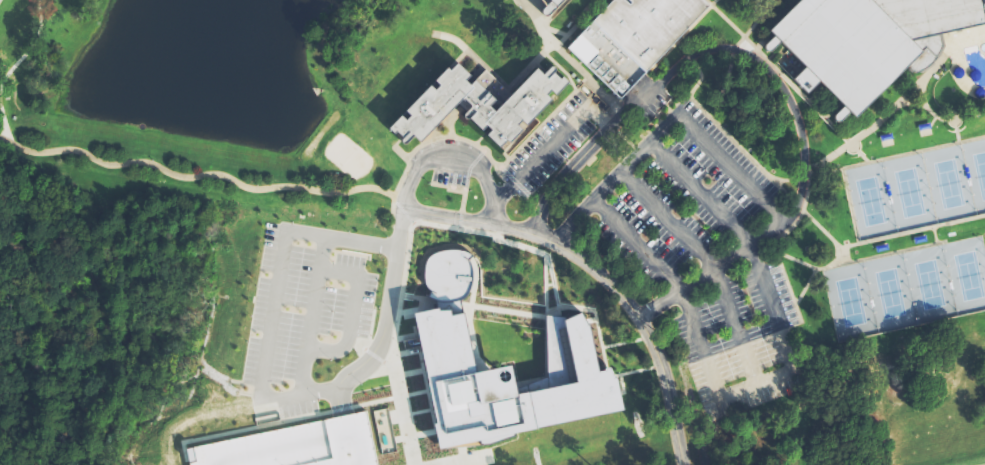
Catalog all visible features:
building: (549, 6)
road: (754, 24)
building: (632, 38)
building: (865, 42)
road: (735, 49)
road: (693, 54)
road: (574, 60)
road: (724, 87)
parking lot: (648, 99)
road: (909, 103)
building: (478, 104)
road: (930, 113)
road: (614, 122)
road: (870, 126)
road: (953, 130)
road: (629, 140)
road: (424, 142)
road: (736, 142)
road: (549, 145)
parking lot: (551, 146)
road: (484, 151)
road: (860, 151)
road: (898, 155)
road: (455, 157)
road: (729, 166)
road: (469, 167)
park: (979, 173)
road: (194, 176)
road: (516, 182)
park: (946, 184)
park: (906, 193)
road: (698, 194)
road: (464, 199)
road: (395, 200)
park: (868, 201)
road: (404, 210)
road: (461, 218)
road: (413, 222)
road: (460, 226)
road: (488, 233)
road: (935, 234)
road: (887, 236)
road: (774, 239)
road: (842, 254)
road: (880, 254)
parking lot: (706, 255)
road: (814, 267)
road: (601, 275)
park: (966, 276)
park: (926, 285)
road: (546, 287)
park: (887, 293)
road: (276, 299)
park: (847, 302)
road: (426, 303)
road: (686, 303)
parking lot: (305, 308)
road: (353, 309)
road: (503, 309)
road: (469, 312)
road: (313, 314)
road: (372, 321)
road: (388, 321)
building: (557, 333)
road: (626, 341)
road: (743, 345)
road: (375, 355)
road: (637, 370)
building: (498, 371)
road: (622, 385)
road: (403, 410)
building: (302, 445)
parking lot: (302, 445)
road: (466, 460)

